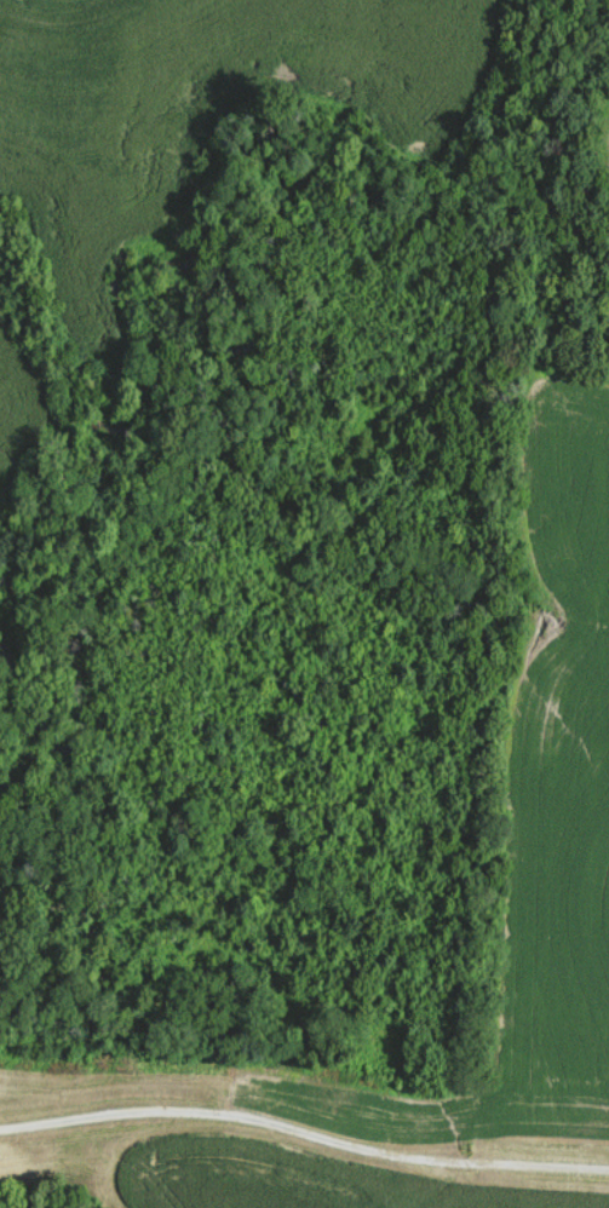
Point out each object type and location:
road: (304, 1129)

